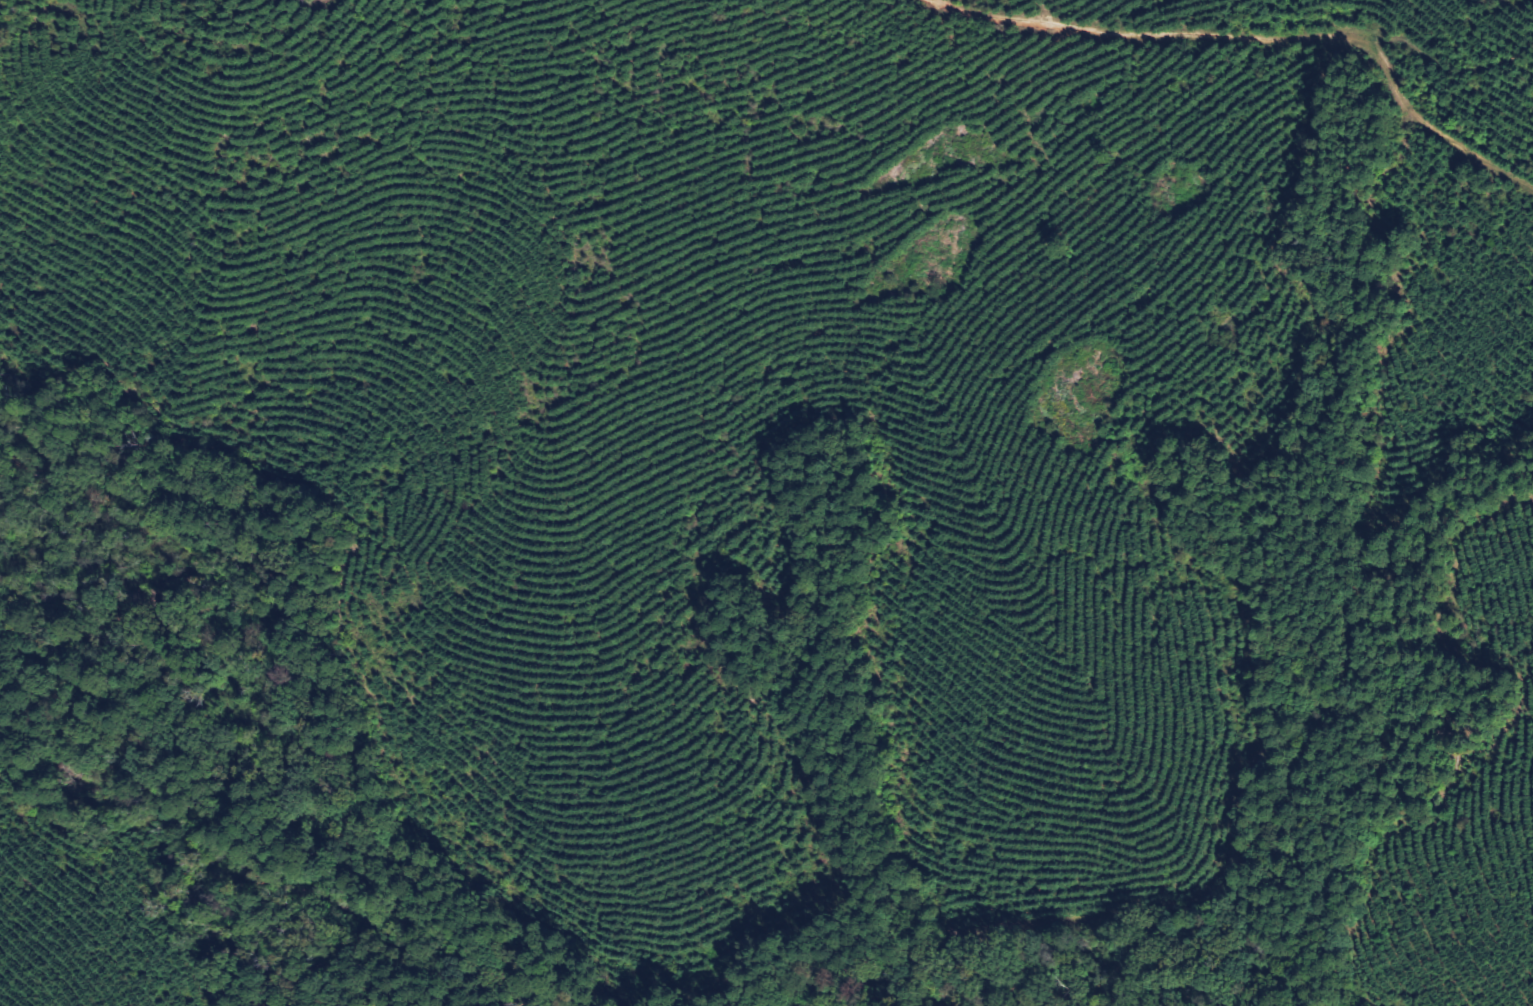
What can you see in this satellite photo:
road: (3, 5)
road: (1264, 38)

